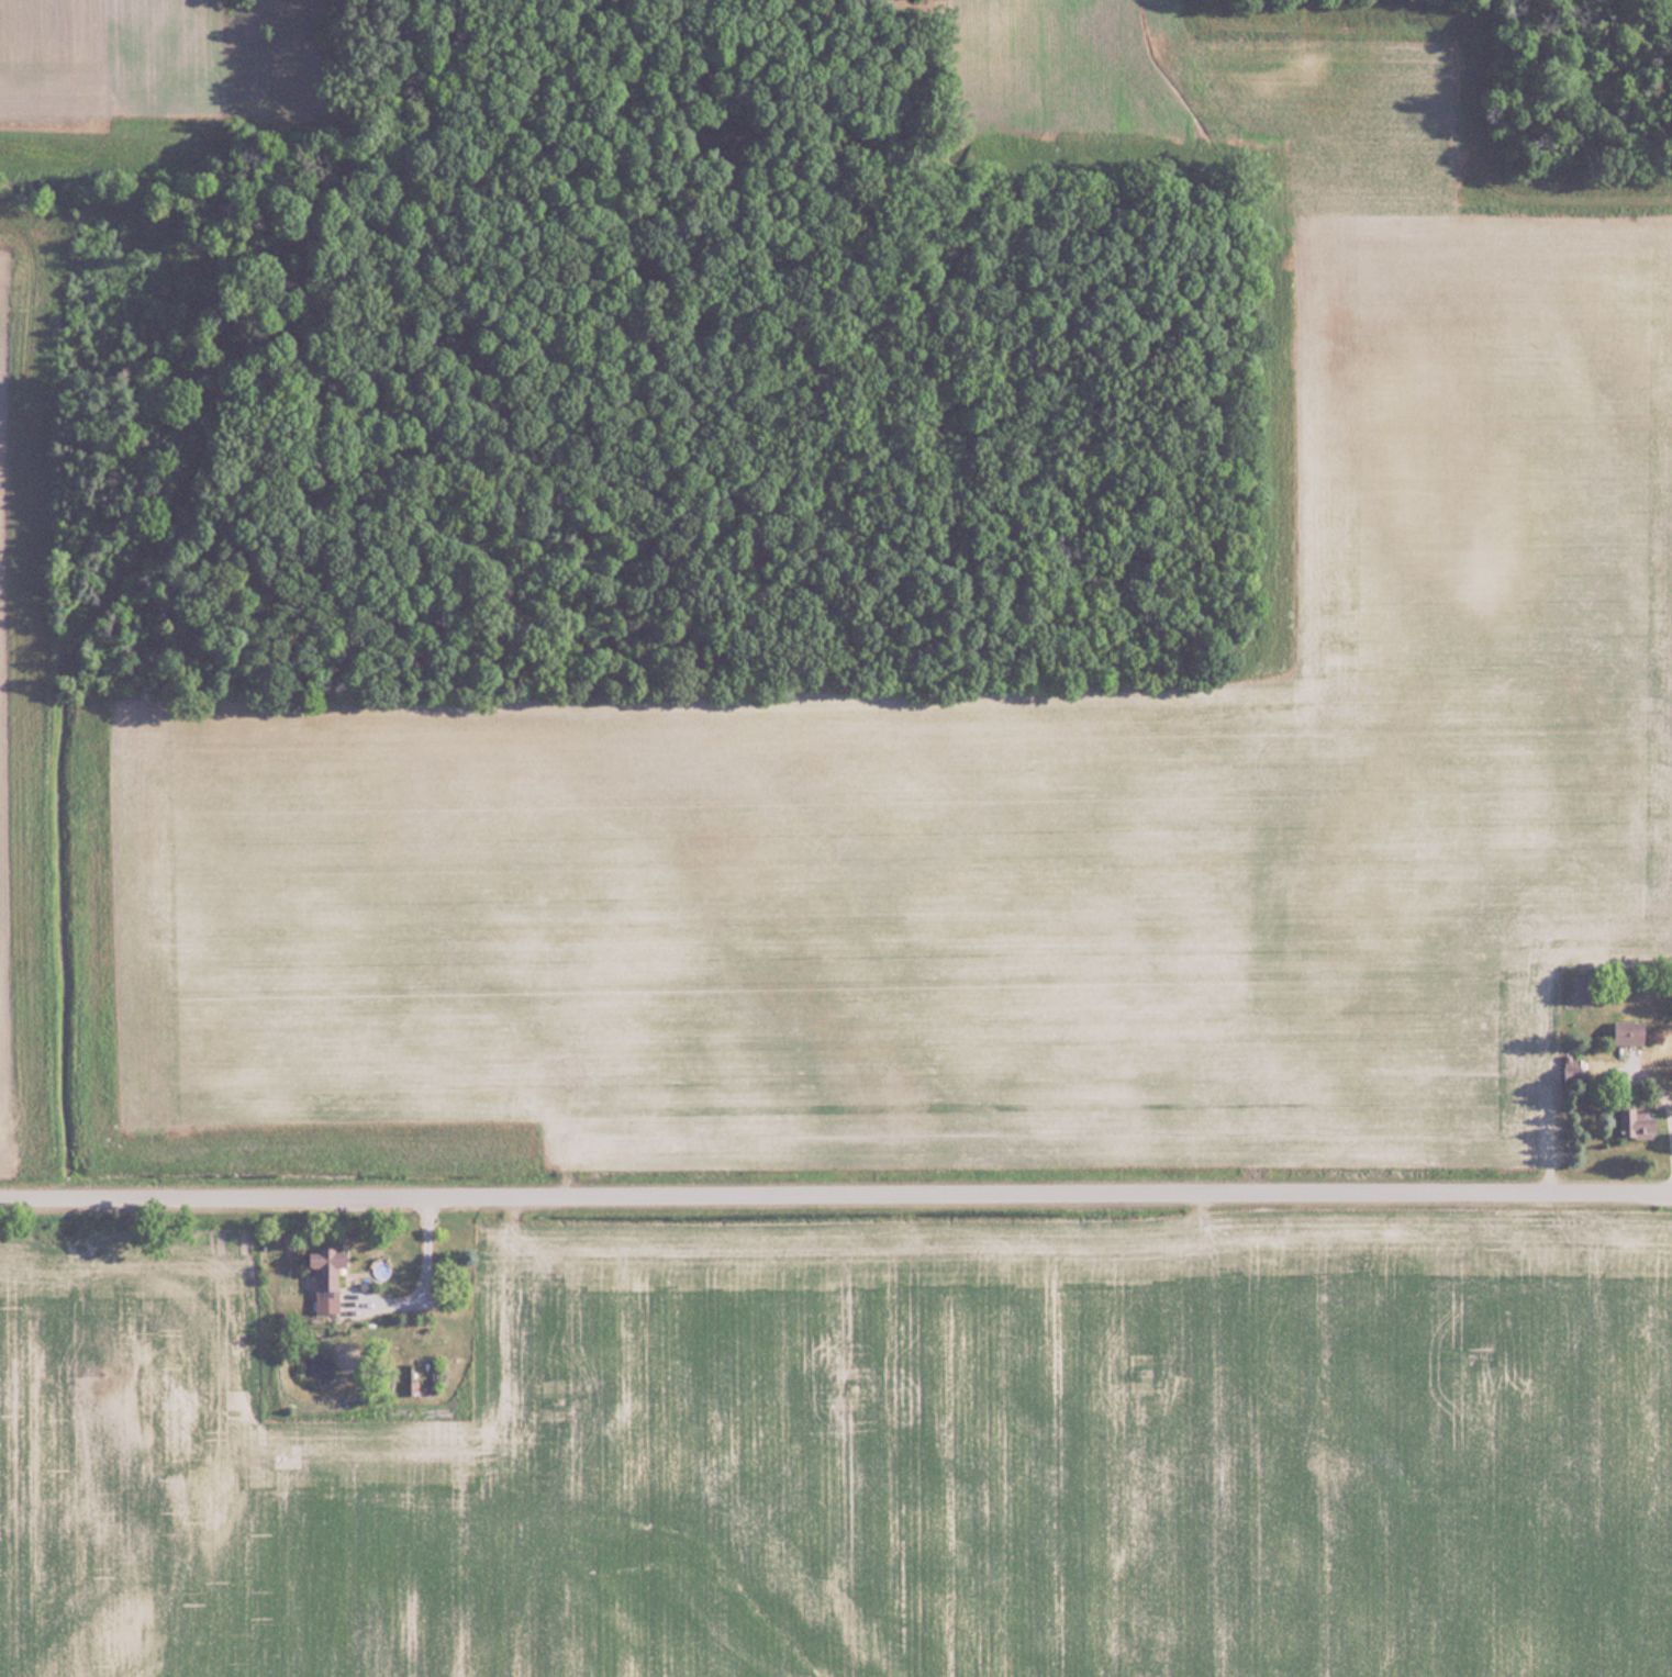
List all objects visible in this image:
building: (1629, 1031)
building: (1637, 1125)
road: (836, 1200)
building: (328, 1266)

